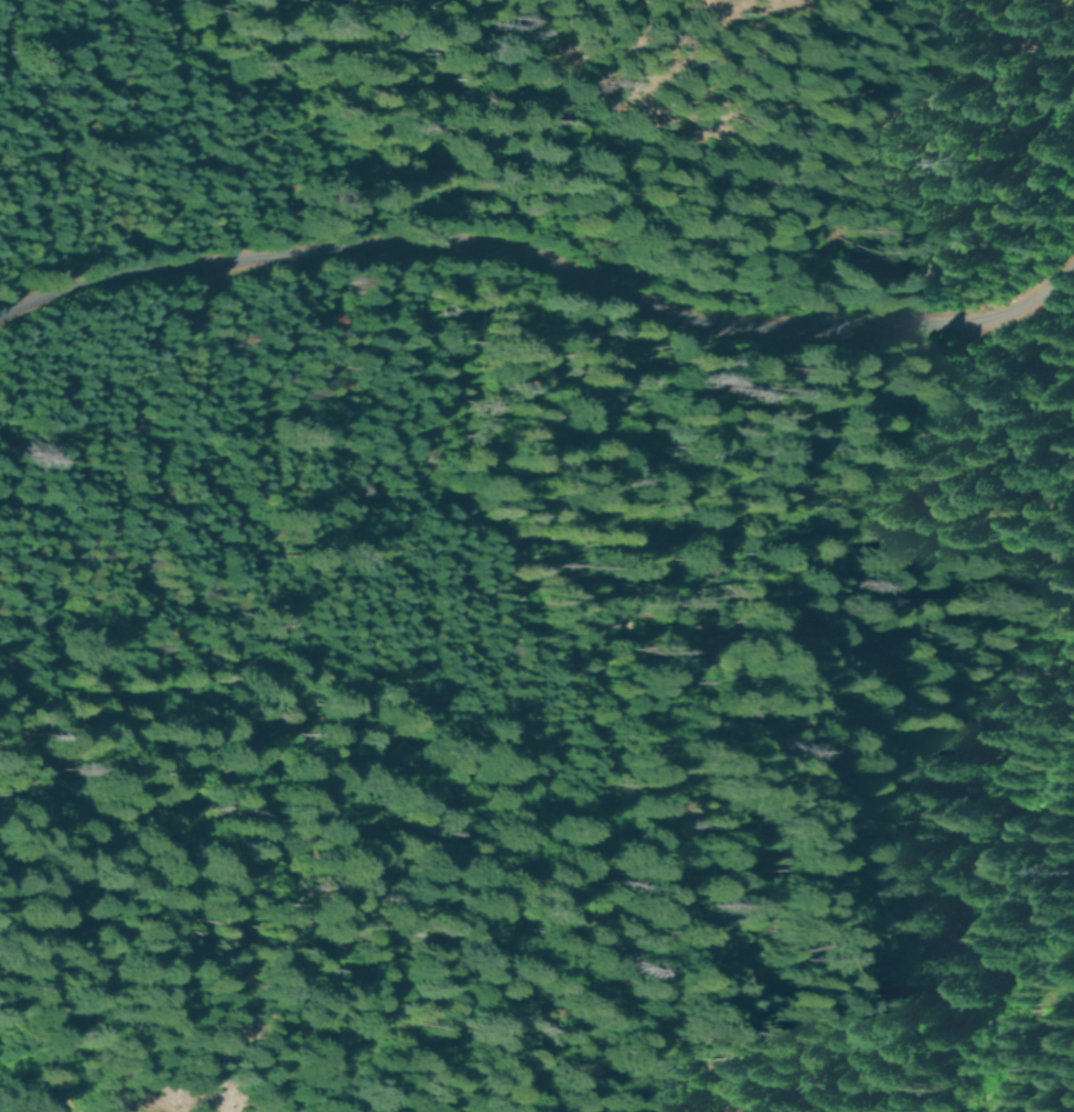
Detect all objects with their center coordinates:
road: (538, 274)
road: (764, 983)

